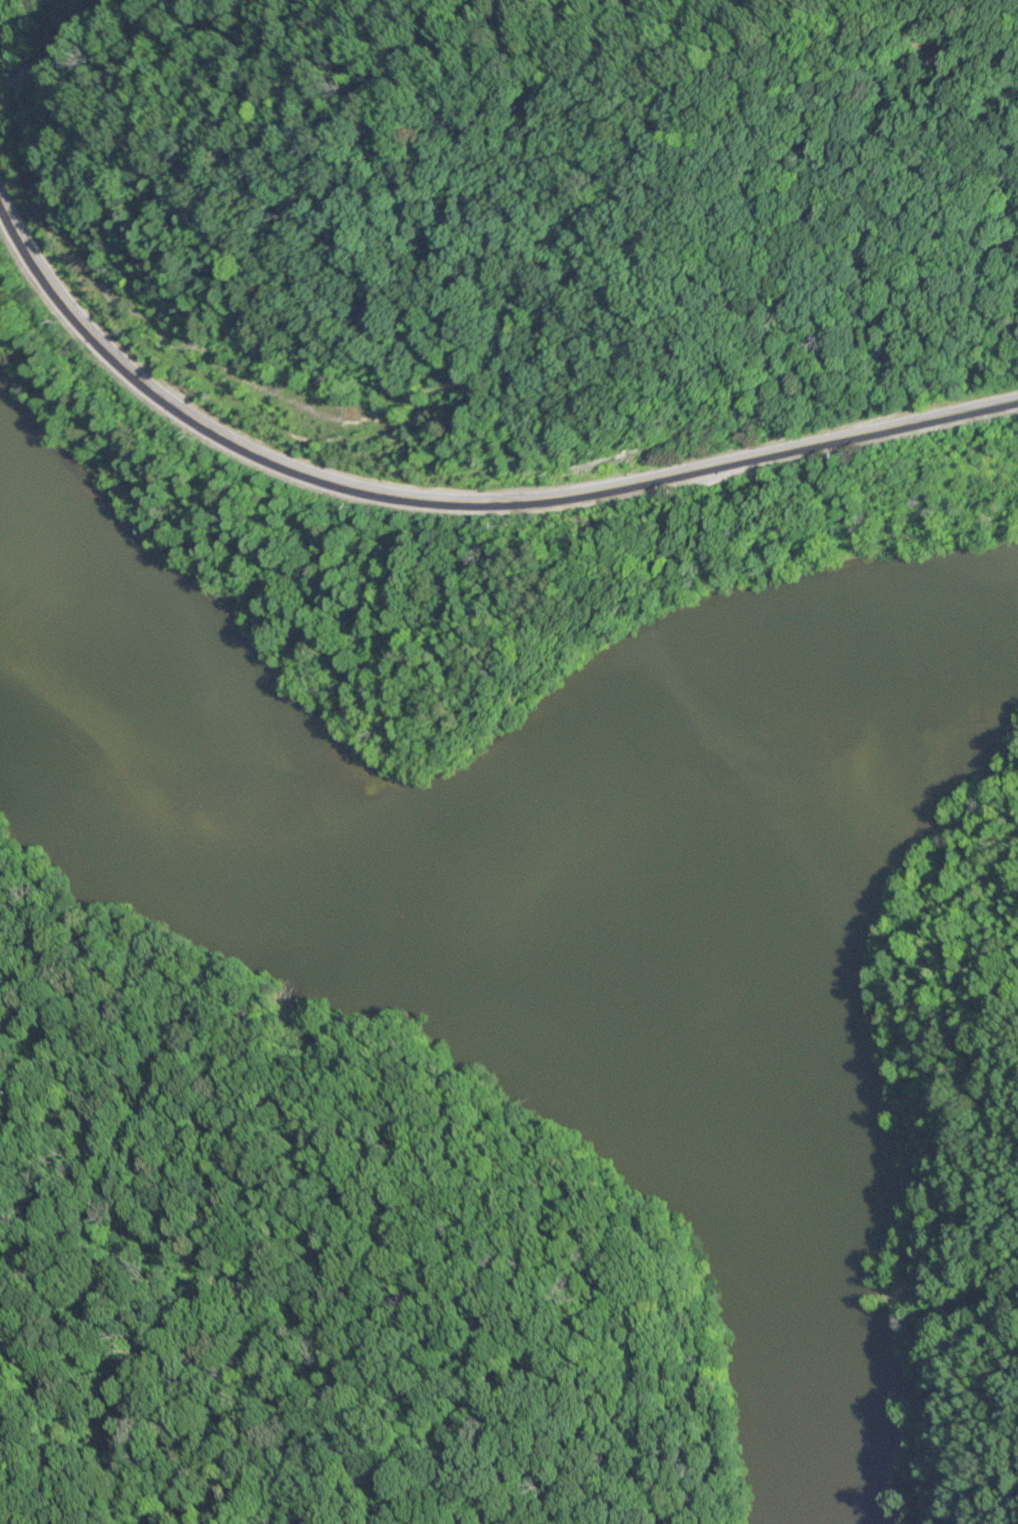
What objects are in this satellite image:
road: (36, 49)
road: (456, 500)
river: (462, 866)
road: (928, 1143)

